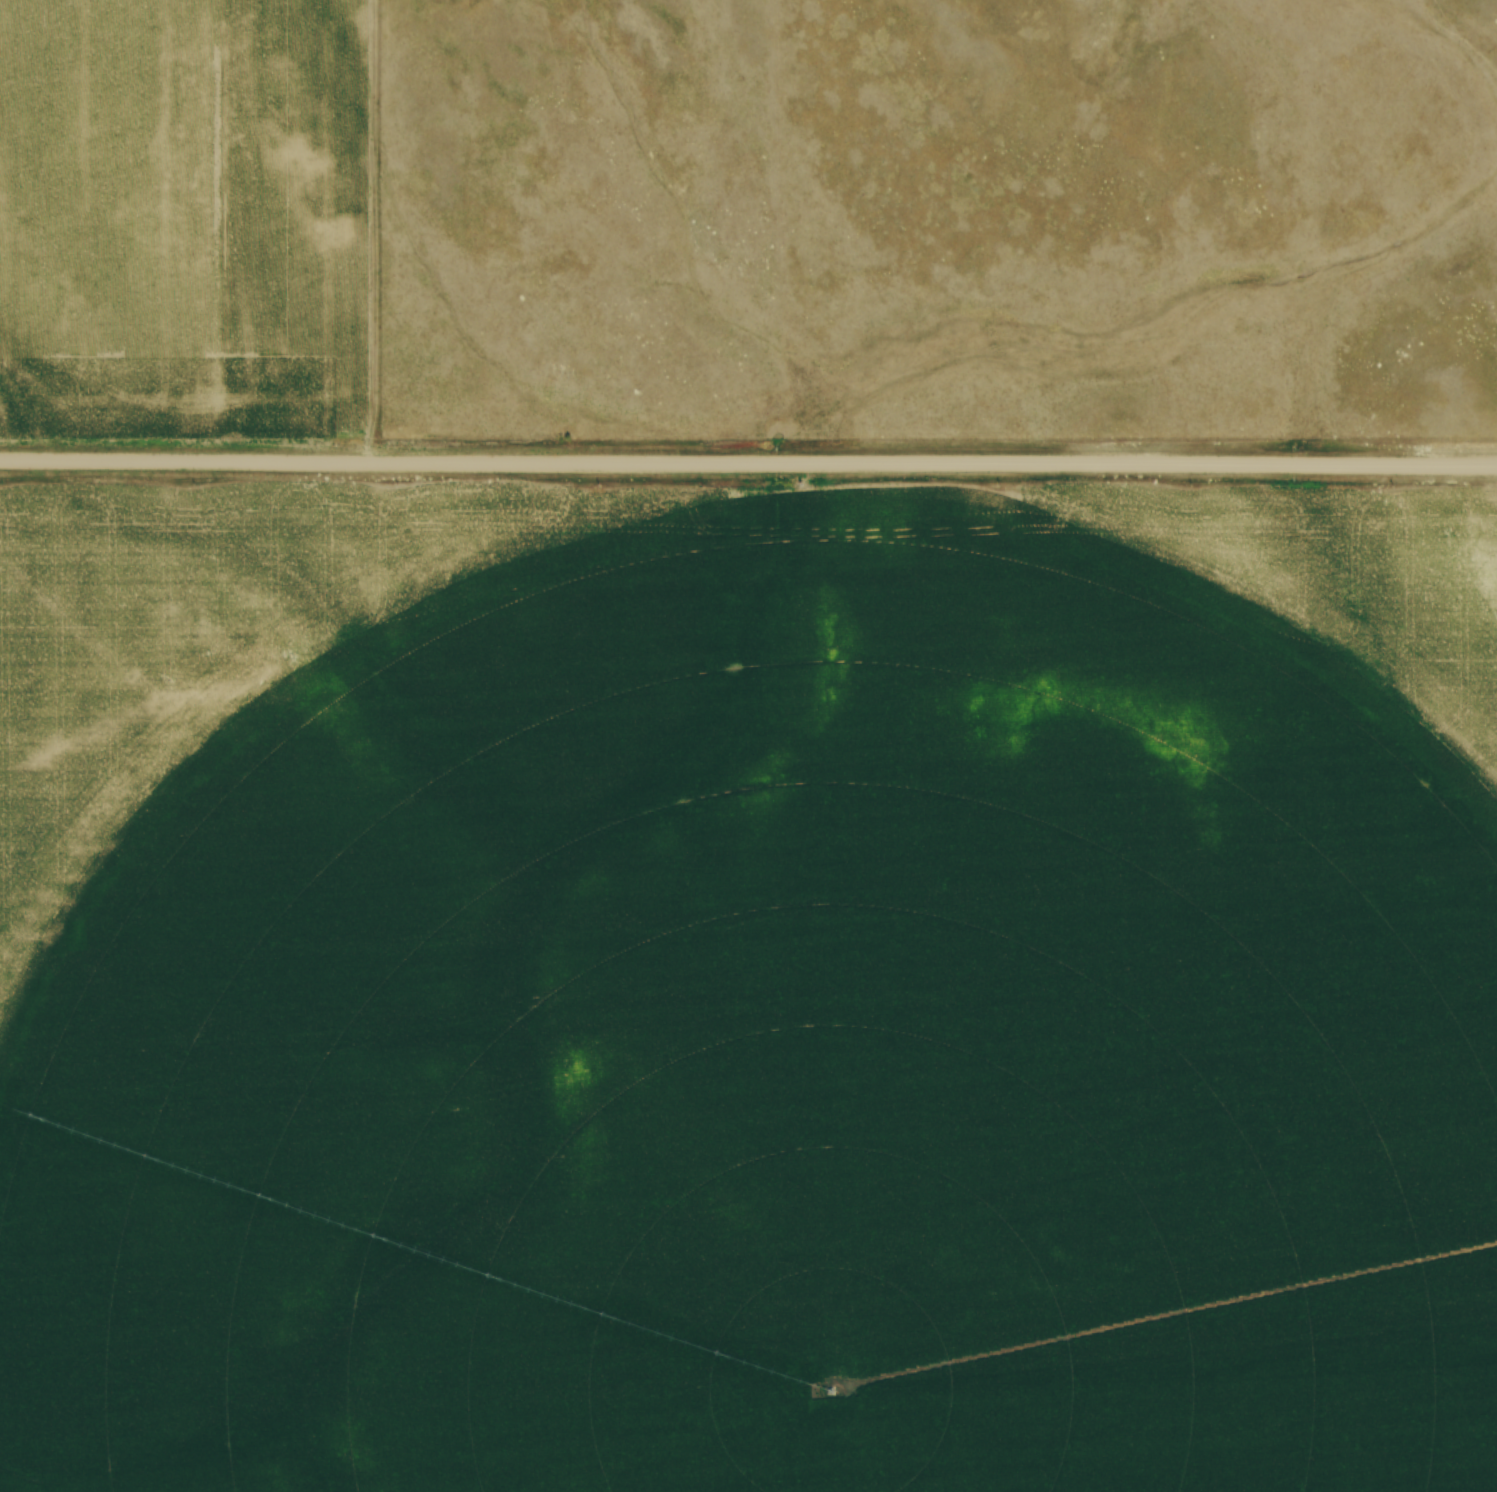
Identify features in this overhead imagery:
crop: (109, 218)
road: (748, 467)
crop: (748, 991)

